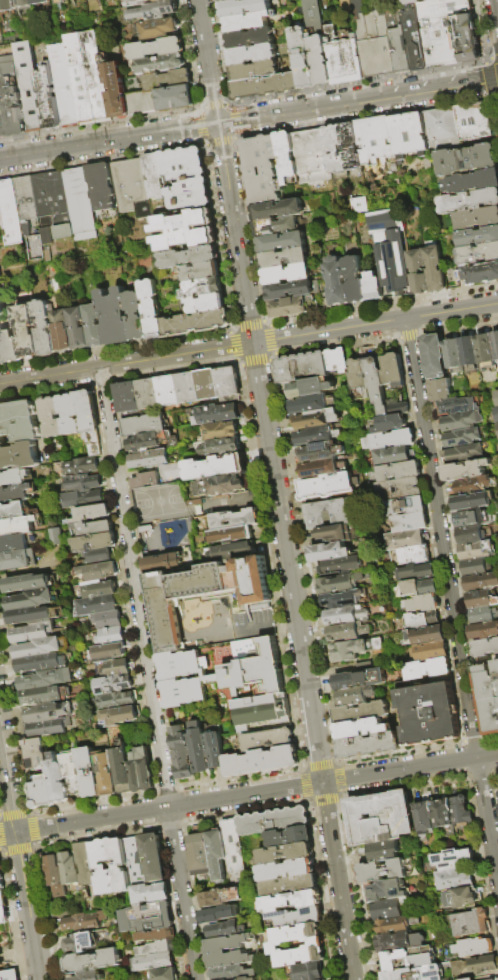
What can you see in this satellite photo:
building: (225, 0)
building: (433, 1)
building: (42, 2)
building: (146, 2)
building: (413, 2)
building: (24, 3)
building: (7, 5)
building: (244, 8)
building: (156, 11)
building: (251, 22)
building: (160, 29)
road: (480, 30)
building: (449, 32)
building: (414, 36)
building: (251, 38)
building: (398, 40)
building: (318, 43)
building: (375, 43)
building: (158, 49)
road: (222, 52)
building: (253, 54)
building: (343, 54)
road: (187, 55)
road: (494, 57)
building: (303, 59)
road: (486, 59)
road: (207, 61)
building: (161, 64)
building: (255, 70)
road: (486, 78)
building: (90, 79)
building: (169, 80)
road: (355, 80)
road: (463, 83)
building: (66, 86)
building: (266, 86)
building: (32, 87)
building: (118, 91)
road: (396, 94)
building: (177, 98)
building: (51, 99)
building: (144, 103)
road: (212, 104)
building: (17, 108)
building: (4, 109)
road: (495, 110)
road: (289, 111)
road: (365, 116)
road: (233, 119)
road: (100, 123)
building: (458, 123)
road: (198, 124)
traffic signals: (217, 124)
building: (409, 131)
building: (375, 138)
road: (234, 139)
road: (218, 140)
road: (108, 141)
building: (351, 144)
building: (335, 147)
building: (287, 153)
building: (312, 153)
building: (467, 157)
road: (102, 159)
building: (262, 167)
building: (184, 176)
building: (472, 179)
building: (153, 182)
building: (98, 185)
building: (129, 185)
building: (23, 197)
building: (468, 198)
building: (78, 202)
building: (50, 205)
building: (358, 205)
building: (278, 207)
building: (8, 212)
building: (476, 216)
building: (0, 223)
building: (277, 224)
building: (23, 228)
building: (182, 228)
road: (234, 233)
building: (478, 234)
road: (216, 236)
building: (282, 239)
building: (34, 246)
building: (388, 248)
building: (478, 251)
building: (186, 255)
building: (285, 256)
building: (432, 266)
building: (198, 269)
building: (416, 270)
building: (479, 270)
building: (287, 272)
building: (353, 277)
building: (335, 279)
building: (370, 284)
building: (201, 285)
building: (290, 287)
building: (324, 298)
building: (205, 301)
building: (290, 305)
building: (1, 307)
building: (149, 307)
building: (134, 313)
building: (113, 315)
road: (289, 319)
road: (263, 320)
building: (194, 321)
building: (92, 323)
road: (247, 323)
road: (374, 323)
building: (59, 324)
road: (269, 324)
building: (43, 326)
building: (76, 326)
road: (456, 327)
building: (25, 329)
road: (407, 336)
road: (270, 339)
building: (495, 344)
road: (233, 345)
building: (9, 346)
road: (117, 346)
building: (485, 350)
building: (469, 351)
road: (273, 354)
building: (453, 354)
road: (175, 355)
building: (434, 356)
road: (269, 359)
building: (337, 360)
road: (236, 362)
road: (254, 362)
building: (302, 368)
building: (393, 370)
road: (49, 376)
building: (358, 379)
building: (207, 384)
building: (228, 384)
road: (100, 385)
building: (376, 385)
building: (186, 388)
building: (311, 388)
building: (439, 389)
building: (166, 391)
building: (497, 392)
building: (146, 393)
building: (126, 397)
building: (312, 404)
building: (457, 406)
building: (396, 408)
building: (497, 408)
building: (216, 413)
building: (85, 414)
building: (66, 415)
building: (48, 416)
building: (316, 419)
building: (17, 421)
building: (461, 421)
building: (387, 424)
building: (142, 425)
building: (221, 431)
building: (316, 436)
building: (461, 437)
building: (389, 440)
building: (147, 441)
building: (221, 446)
building: (92, 449)
building: (319, 452)
building: (464, 453)
building: (17, 455)
building: (390, 456)
building: (148, 459)
building: (78, 466)
road: (171, 466)
building: (214, 467)
building: (318, 468)
building: (465, 469)
road: (138, 470)
building: (397, 471)
building: (12, 477)
building: (145, 481)
building: (79, 482)
building: (474, 484)
building: (219, 486)
building: (325, 487)
building: (398, 489)
building: (15, 492)
road: (293, 497)
building: (81, 498)
park: (159, 500)
building: (472, 500)
building: (405, 507)
building: (14, 510)
building: (89, 512)
building: (324, 513)
building: (470, 518)
building: (235, 520)
road: (132, 522)
building: (409, 523)
building: (16, 526)
building: (92, 528)
building: (332, 533)
building: (473, 534)
building: (229, 535)
building: (54, 536)
road: (448, 536)
road: (441, 538)
building: (403, 539)
building: (93, 541)
building: (14, 542)
road: (116, 542)
building: (476, 549)
building: (231, 551)
building: (328, 552)
building: (97, 555)
building: (409, 556)
building: (16, 559)
road: (287, 562)
building: (161, 563)
road: (270, 565)
building: (341, 565)
building: (474, 566)
building: (96, 571)
building: (415, 572)
building: (482, 581)
building: (27, 583)
building: (339, 583)
building: (97, 588)
building: (416, 588)
building: (203, 594)
building: (342, 599)
building: (481, 599)
building: (31, 600)
building: (95, 604)
building: (421, 604)
road: (441, 604)
building: (33, 615)
building: (482, 615)
building: (344, 616)
building: (105, 619)
building: (420, 620)
road: (285, 623)
road: (254, 626)
building: (483, 630)
building: (345, 632)
building: (33, 633)
building: (425, 634)
building: (107, 636)
building: (42, 647)
building: (484, 647)
building: (352, 649)
building: (429, 650)
building: (105, 651)
building: (42, 663)
building: (114, 667)
building: (426, 669)
road: (147, 673)
building: (359, 678)
building: (46, 680)
building: (170, 680)
building: (110, 684)
building: (258, 685)
building: (45, 696)
building: (354, 696)
building: (488, 697)
building: (113, 700)
building: (52, 712)
building: (360, 712)
building: (428, 714)
building: (118, 715)
road: (14, 722)
building: (49, 728)
building: (361, 729)
road: (489, 737)
building: (267, 740)
road: (471, 740)
building: (368, 745)
building: (200, 748)
building: (217, 751)
building: (33, 753)
building: (182, 754)
building: (263, 761)
road: (318, 764)
building: (121, 768)
road: (302, 768)
building: (140, 770)
building: (88, 772)
road: (492, 772)
building: (72, 773)
building: (106, 773)
road: (479, 775)
road: (238, 778)
road: (338, 778)
building: (57, 779)
road: (8, 782)
road: (303, 784)
road: (403, 786)
road: (165, 789)
building: (497, 791)
building: (40, 792)
road: (256, 794)
road: (494, 794)
road: (324, 800)
road: (93, 801)
road: (307, 801)
building: (461, 810)
road: (27, 811)
road: (242, 812)
road: (29, 813)
building: (443, 813)
road: (12, 814)
road: (26, 815)
building: (423, 815)
building: (380, 817)
building: (272, 821)
road: (487, 823)
road: (169, 824)
road: (30, 829)
road: (8, 834)
road: (98, 835)
building: (288, 836)
road: (31, 844)
road: (36, 845)
road: (33, 849)
building: (381, 850)
road: (17, 851)
building: (233, 852)
road: (1, 853)
building: (284, 853)
road: (3, 854)
building: (216, 854)
building: (199, 856)
building: (154, 858)
building: (452, 859)
building: (136, 861)
building: (86, 865)
building: (119, 865)
building: (103, 867)
building: (1, 868)
building: (71, 869)
building: (285, 870)
building: (381, 871)
building: (55, 874)
road: (482, 875)
building: (454, 879)
road: (338, 881)
building: (2, 882)
building: (288, 886)
road: (354, 886)
road: (322, 891)
building: (386, 891)
building: (151, 893)
building: (219, 897)
building: (461, 898)
building: (3, 899)
road: (193, 901)
building: (286, 902)
road: (171, 903)
road: (27, 906)
building: (387, 910)
road: (45, 914)
building: (217, 914)
building: (4, 915)
road: (11, 917)
building: (148, 917)
building: (294, 917)
building: (84, 921)
building: (468, 922)
building: (392, 926)
building: (225, 930)
building: (155, 936)
road: (1, 938)
building: (80, 942)
building: (394, 942)
road: (1, 944)
building: (315, 945)
building: (470, 946)
park: (7, 948)
building: (158, 948)
building: (214, 951)
road: (11, 954)
building: (407, 958)
building: (93, 961)
building: (153, 961)
road: (7, 963)
building: (480, 963)
road: (16, 965)
building: (307, 971)
building: (230, 972)
building: (416, 973)
building: (165, 974)
building: (9, 976)
building: (88, 976)
building: (244, 978)
building: (469, 979)
building: (488, 979)

